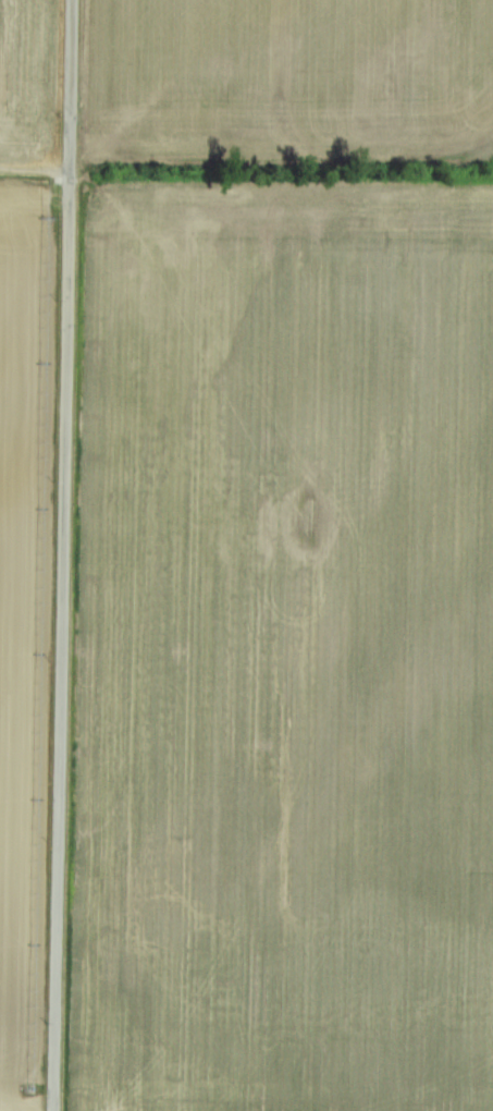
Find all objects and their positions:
road: (36, 168)
road: (64, 555)

